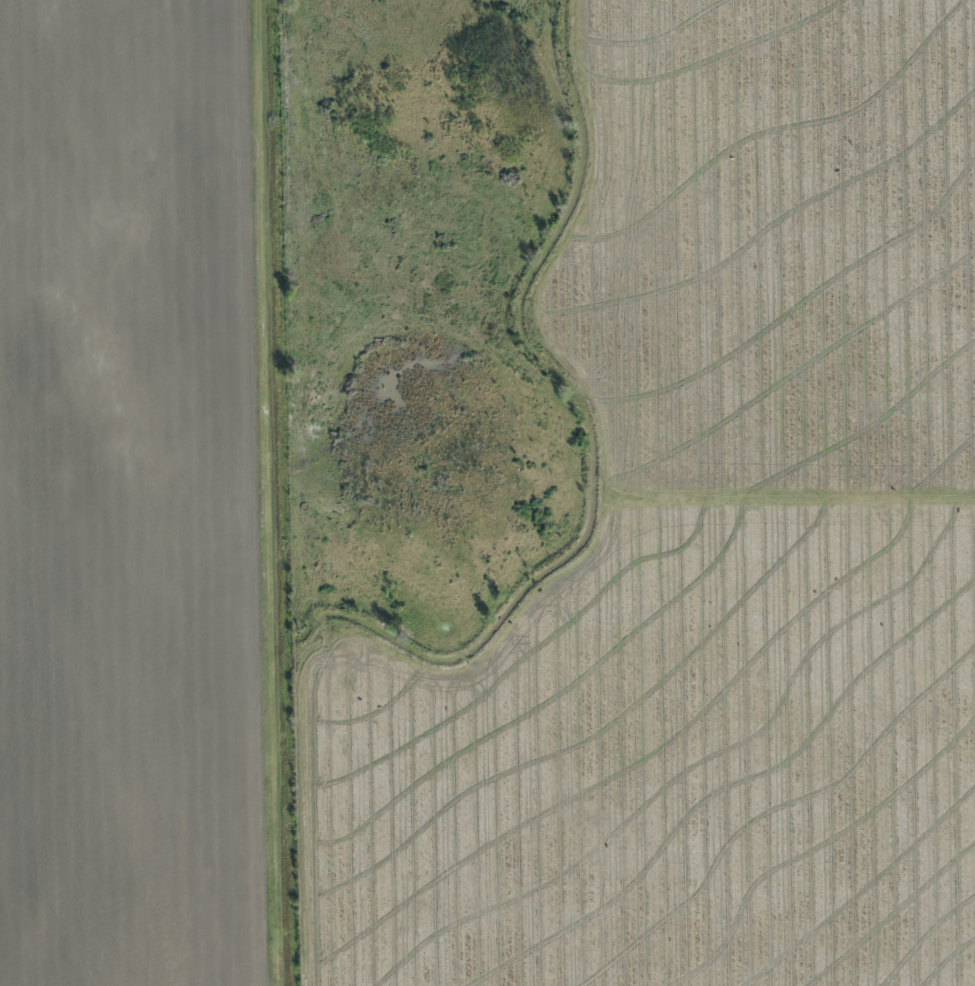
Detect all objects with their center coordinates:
road: (277, 493)

